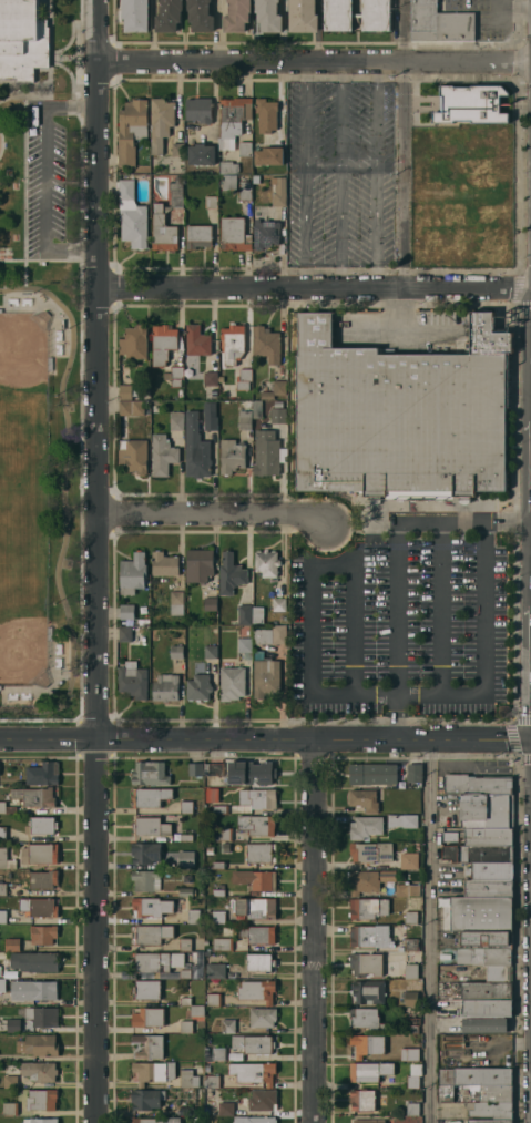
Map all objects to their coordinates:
road: (510, 7)
building: (135, 14)
building: (357, 14)
building: (169, 16)
building: (200, 16)
building: (236, 16)
building: (268, 16)
building: (303, 16)
building: (439, 22)
road: (404, 32)
building: (22, 40)
road: (314, 63)
building: (471, 104)
building: (198, 110)
building: (266, 114)
building: (233, 120)
building: (161, 122)
building: (131, 130)
road: (376, 130)
building: (486, 140)
building: (245, 149)
building: (177, 152)
building: (201, 154)
building: (268, 155)
road: (324, 164)
building: (229, 166)
road: (402, 176)
road: (43, 177)
building: (228, 182)
building: (278, 190)
building: (245, 191)
building: (256, 193)
building: (211, 202)
building: (132, 216)
building: (159, 220)
building: (438, 231)
building: (265, 233)
building: (234, 234)
building: (198, 236)
road: (313, 287)
road: (409, 329)
building: (196, 341)
building: (233, 343)
building: (163, 344)
building: (266, 344)
building: (131, 349)
road: (94, 368)
building: (174, 376)
building: (211, 378)
building: (243, 379)
building: (275, 389)
building: (125, 391)
building: (181, 394)
building: (277, 404)
building: (131, 407)
building: (154, 408)
building: (257, 409)
building: (278, 415)
building: (210, 416)
building: (401, 416)
building: (244, 419)
building: (176, 421)
building: (195, 448)
building: (266, 452)
building: (133, 455)
building: (162, 455)
building: (232, 456)
road: (211, 517)
road: (509, 518)
road: (429, 522)
building: (266, 562)
building: (164, 564)
building: (198, 565)
building: (132, 573)
building: (231, 574)
building: (176, 603)
building: (210, 603)
building: (278, 604)
road: (442, 610)
building: (126, 611)
road: (396, 611)
building: (244, 614)
parking lot: (406, 619)
road: (351, 627)
building: (124, 633)
building: (269, 634)
building: (244, 644)
building: (176, 652)
building: (211, 652)
building: (265, 678)
building: (133, 681)
building: (232, 683)
building: (165, 687)
building: (198, 687)
road: (381, 698)
road: (394, 718)
road: (47, 737)
road: (312, 738)
building: (195, 768)
building: (215, 768)
building: (42, 773)
building: (150, 773)
building: (251, 773)
building: (372, 773)
building: (415, 773)
building: (478, 784)
building: (151, 796)
building: (33, 797)
building: (257, 798)
building: (364, 799)
building: (186, 807)
building: (7, 808)
building: (219, 809)
building: (487, 810)
building: (402, 820)
building: (41, 825)
building: (257, 825)
building: (151, 826)
building: (366, 827)
building: (2, 833)
building: (223, 834)
building: (450, 836)
building: (488, 836)
building: (186, 837)
building: (200, 846)
building: (210, 850)
building: (371, 851)
building: (42, 853)
building: (145, 853)
building: (261, 853)
building: (478, 853)
building: (6, 859)
building: (186, 859)
building: (409, 860)
building: (217, 865)
building: (489, 870)
building: (43, 879)
building: (144, 879)
building: (255, 879)
building: (362, 881)
building: (488, 887)
building: (3, 889)
building: (402, 889)
building: (186, 891)
building: (217, 892)
building: (39, 907)
building: (146, 907)
building: (254, 907)
building: (367, 908)
building: (481, 912)
building: (2, 916)
building: (194, 916)
building: (216, 917)
building: (410, 917)
road: (94, 930)
road: (309, 930)
road: (428, 930)
building: (43, 933)
building: (151, 933)
building: (259, 935)
building: (370, 936)
building: (486, 939)
building: (11, 943)
building: (185, 943)
building: (222, 943)
building: (410, 945)
building: (412, 956)
building: (483, 956)
building: (0, 957)
building: (35, 961)
building: (156, 961)
building: (259, 962)
building: (196, 963)
building: (366, 963)
building: (215, 970)
building: (410, 970)
building: (498, 972)
building: (185, 973)
building: (146, 989)
building: (42, 990)
building: (257, 990)
building: (487, 990)
building: (368, 991)
building: (8, 998)
building: (410, 998)
building: (214, 999)
building: (185, 1001)
building: (488, 1007)
building: (197, 1010)
building: (42, 1015)
building: (147, 1017)
building: (263, 1017)
building: (366, 1018)
building: (411, 1024)
building: (486, 1024)
building: (13, 1025)
building: (185, 1025)
building: (228, 1025)
building: (254, 1043)
building: (368, 1044)
building: (39, 1045)
building: (149, 1047)
building: (409, 1053)
building: (217, 1054)
building: (39, 1070)
building: (368, 1071)
building: (150, 1072)
building: (253, 1072)
building: (413, 1075)
building: (474, 1075)
building: (187, 1079)
building: (10, 1081)
building: (212, 1081)
building: (446, 1092)
building: (496, 1093)
building: (145, 1099)
building: (42, 1100)
building: (263, 1100)
building: (361, 1100)
building: (9, 1109)
building: (226, 1109)
building: (412, 1109)
building: (490, 1109)
building: (187, 1111)
building: (40, 1120)
building: (156, 1120)
building: (254, 1120)
building: (369, 1121)
building: (490, 1121)

